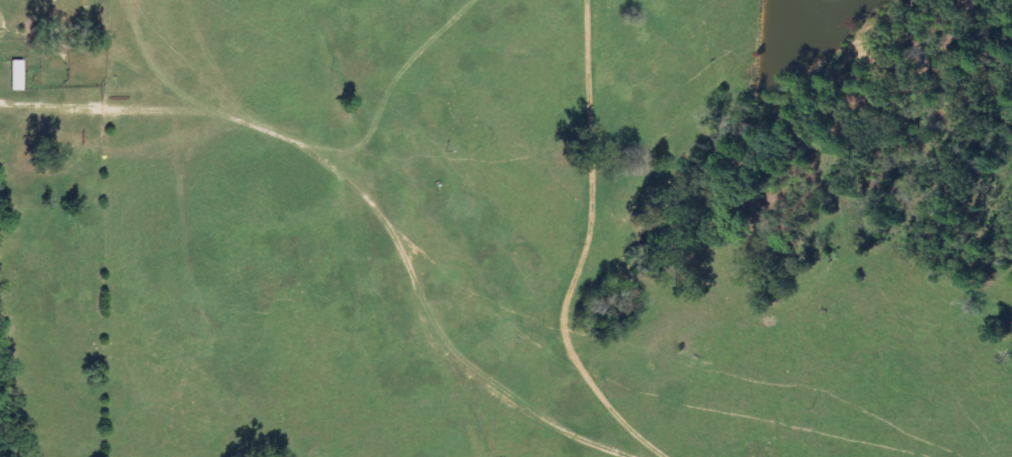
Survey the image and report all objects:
road: (329, 201)

